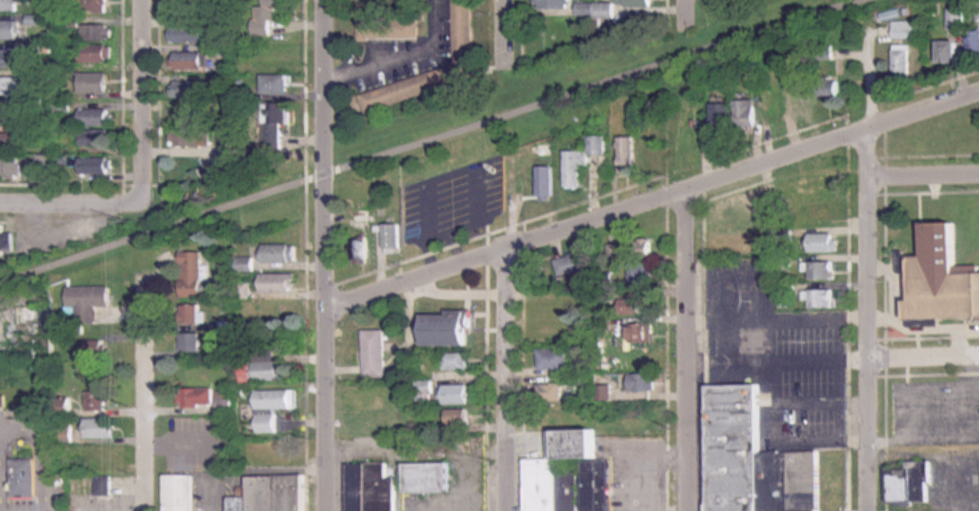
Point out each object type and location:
building: (556, 3)
building: (9, 5)
building: (94, 6)
road: (684, 7)
building: (596, 9)
building: (267, 15)
building: (958, 15)
building: (392, 24)
building: (9, 29)
building: (905, 29)
road: (503, 32)
building: (98, 33)
building: (189, 33)
building: (974, 45)
building: (951, 52)
building: (97, 53)
building: (9, 58)
road: (400, 59)
building: (189, 60)
building: (903, 63)
building: (94, 83)
building: (275, 84)
building: (10, 86)
building: (829, 87)
building: (188, 89)
building: (805, 96)
road: (146, 102)
building: (778, 104)
building: (63, 106)
building: (9, 114)
building: (746, 114)
building: (96, 117)
building: (189, 117)
building: (722, 118)
building: (274, 124)
building: (95, 138)
building: (191, 138)
road: (427, 138)
building: (9, 142)
building: (626, 154)
building: (579, 161)
building: (97, 165)
building: (9, 167)
building: (221, 172)
road: (924, 173)
building: (544, 181)
road: (652, 199)
road: (74, 204)
building: (825, 207)
building: (742, 216)
building: (391, 235)
building: (822, 241)
building: (5, 242)
building: (640, 248)
building: (359, 250)
building: (615, 251)
building: (278, 252)
road: (325, 255)
building: (571, 263)
road: (868, 265)
building: (821, 269)
building: (641, 272)
building: (192, 274)
building: (941, 278)
building: (278, 281)
building: (820, 297)
building: (86, 300)
building: (630, 305)
building: (189, 313)
building: (445, 326)
building: (643, 331)
building: (30, 332)
building: (190, 340)
road: (689, 349)
building: (374, 352)
road: (778, 355)
building: (92, 356)
building: (554, 358)
road: (923, 359)
building: (456, 360)
building: (262, 366)
road: (505, 379)
building: (643, 380)
building: (424, 389)
building: (549, 391)
building: (456, 392)
road: (152, 395)
building: (196, 395)
building: (95, 398)
building: (272, 406)
building: (387, 416)
building: (457, 416)
building: (99, 426)
building: (64, 429)
road: (783, 433)
building: (279, 450)
building: (99, 455)
building: (753, 458)
building: (568, 474)
building: (427, 476)
building: (22, 477)
building: (908, 481)
building: (103, 484)
building: (370, 487)
building: (178, 492)
building: (270, 493)

